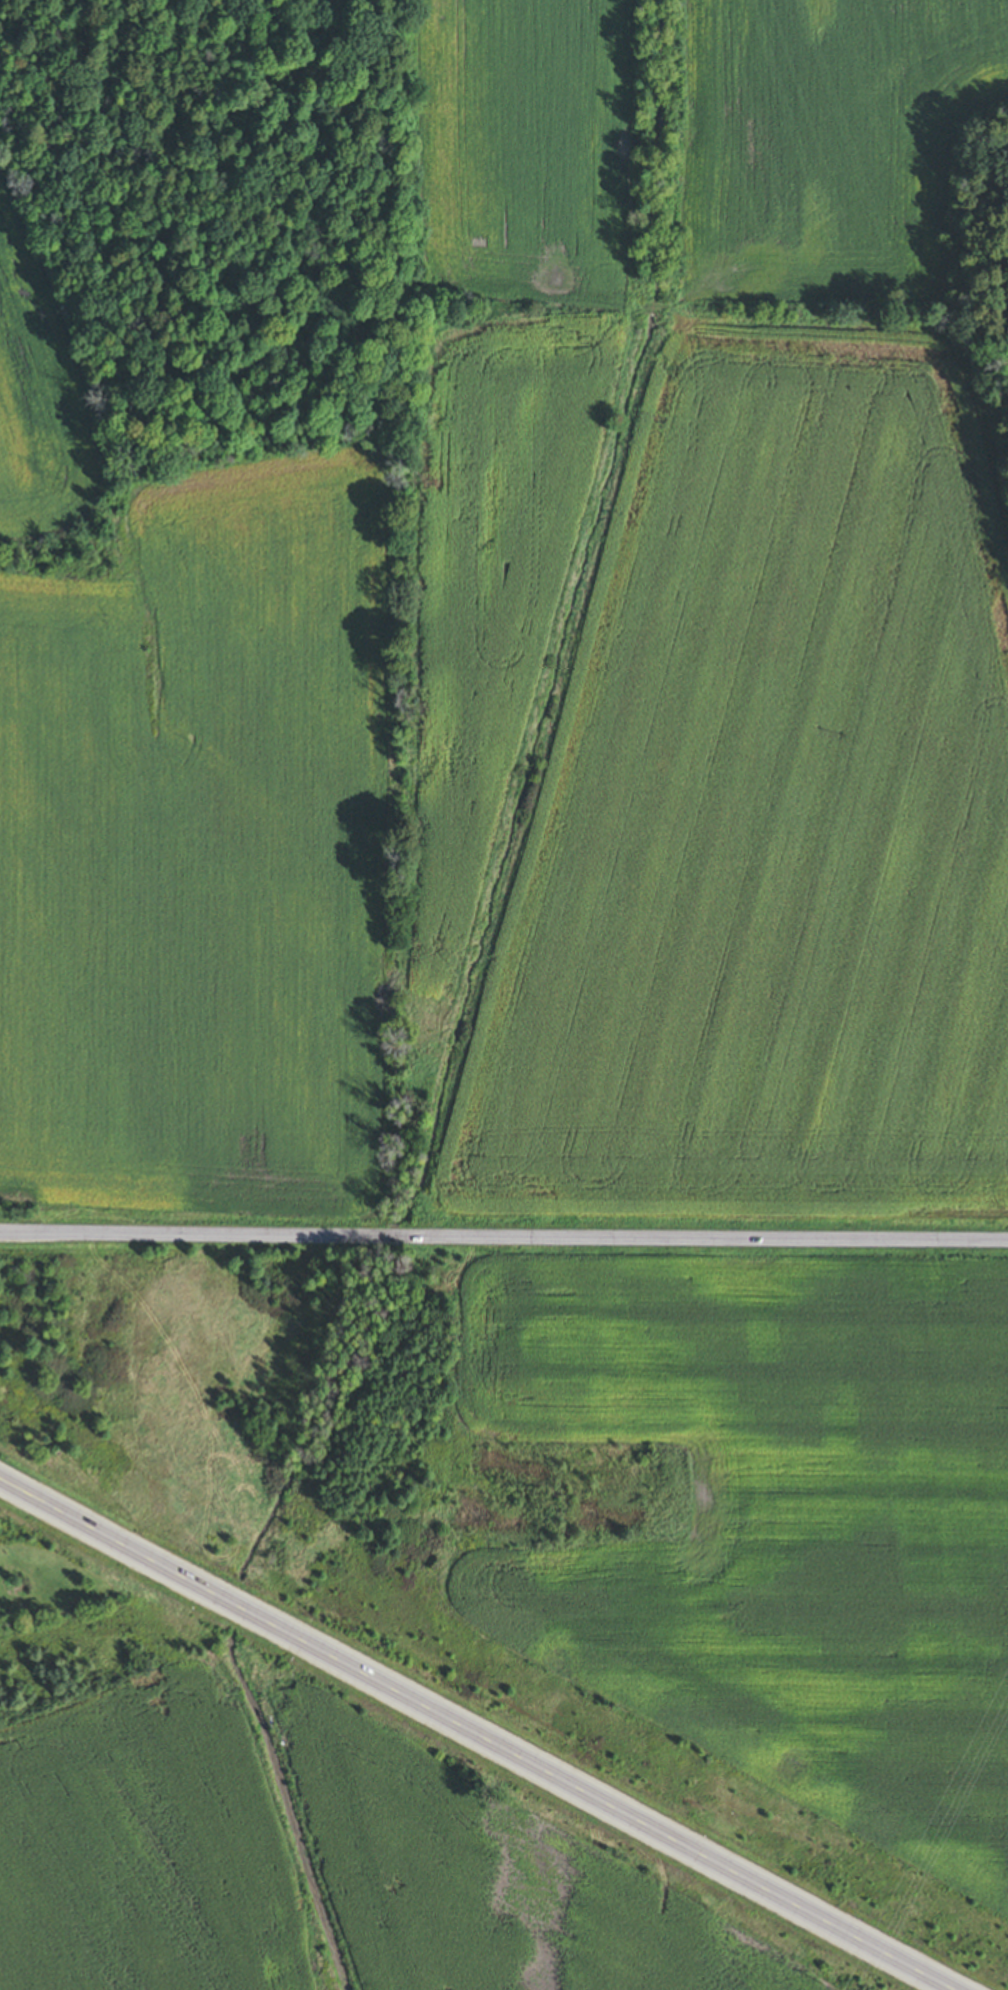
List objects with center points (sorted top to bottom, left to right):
road: (503, 1238)
road: (475, 1733)

